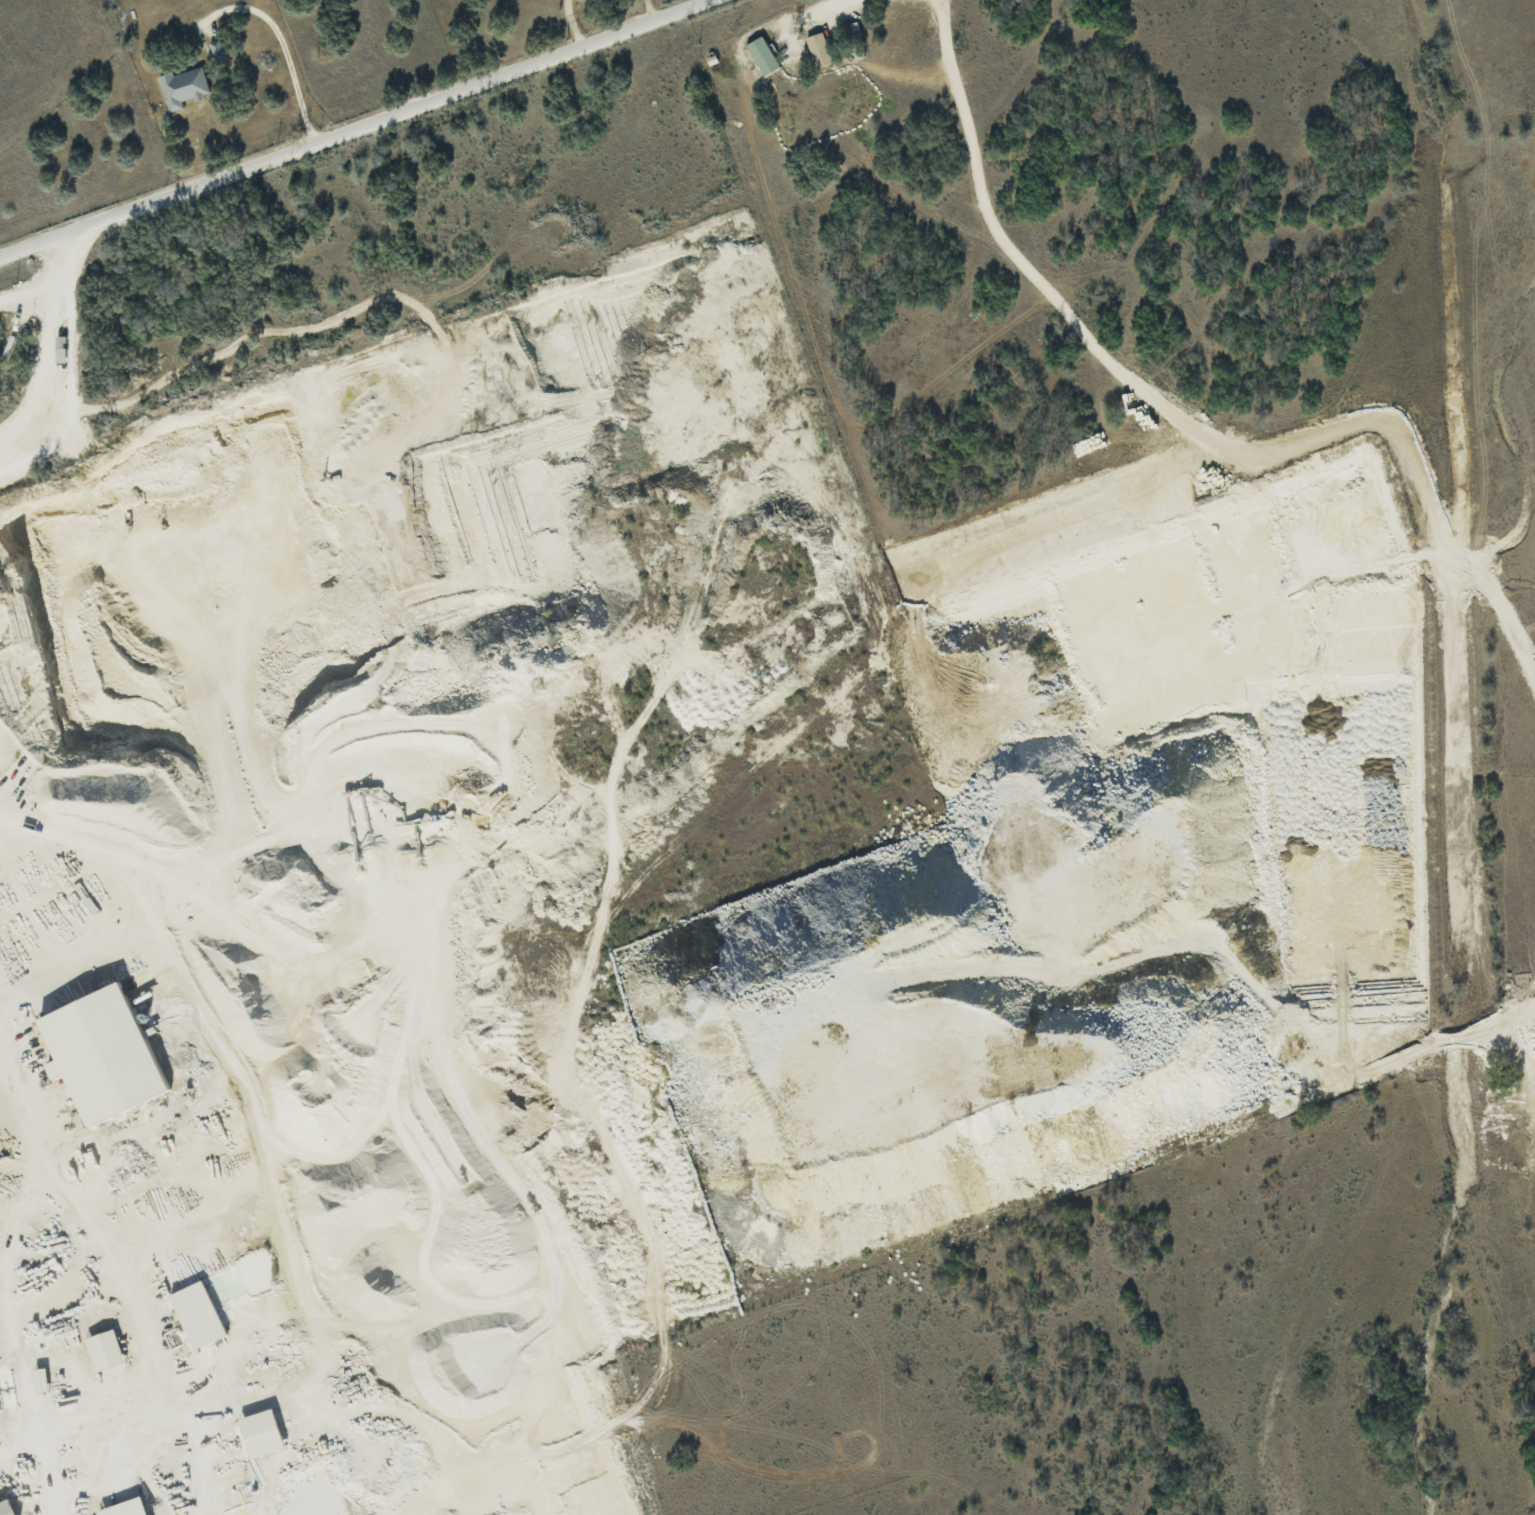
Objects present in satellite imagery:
road: (649, 10)
road: (812, 12)
building: (818, 49)
road: (284, 52)
building: (762, 55)
building: (182, 87)
road: (357, 129)
road: (48, 343)
building: (59, 348)
quarry: (568, 906)
building: (101, 1054)
building: (196, 1314)
building: (103, 1350)
building: (40, 1380)
building: (260, 1433)
building: (6, 1508)
building: (124, 1508)

